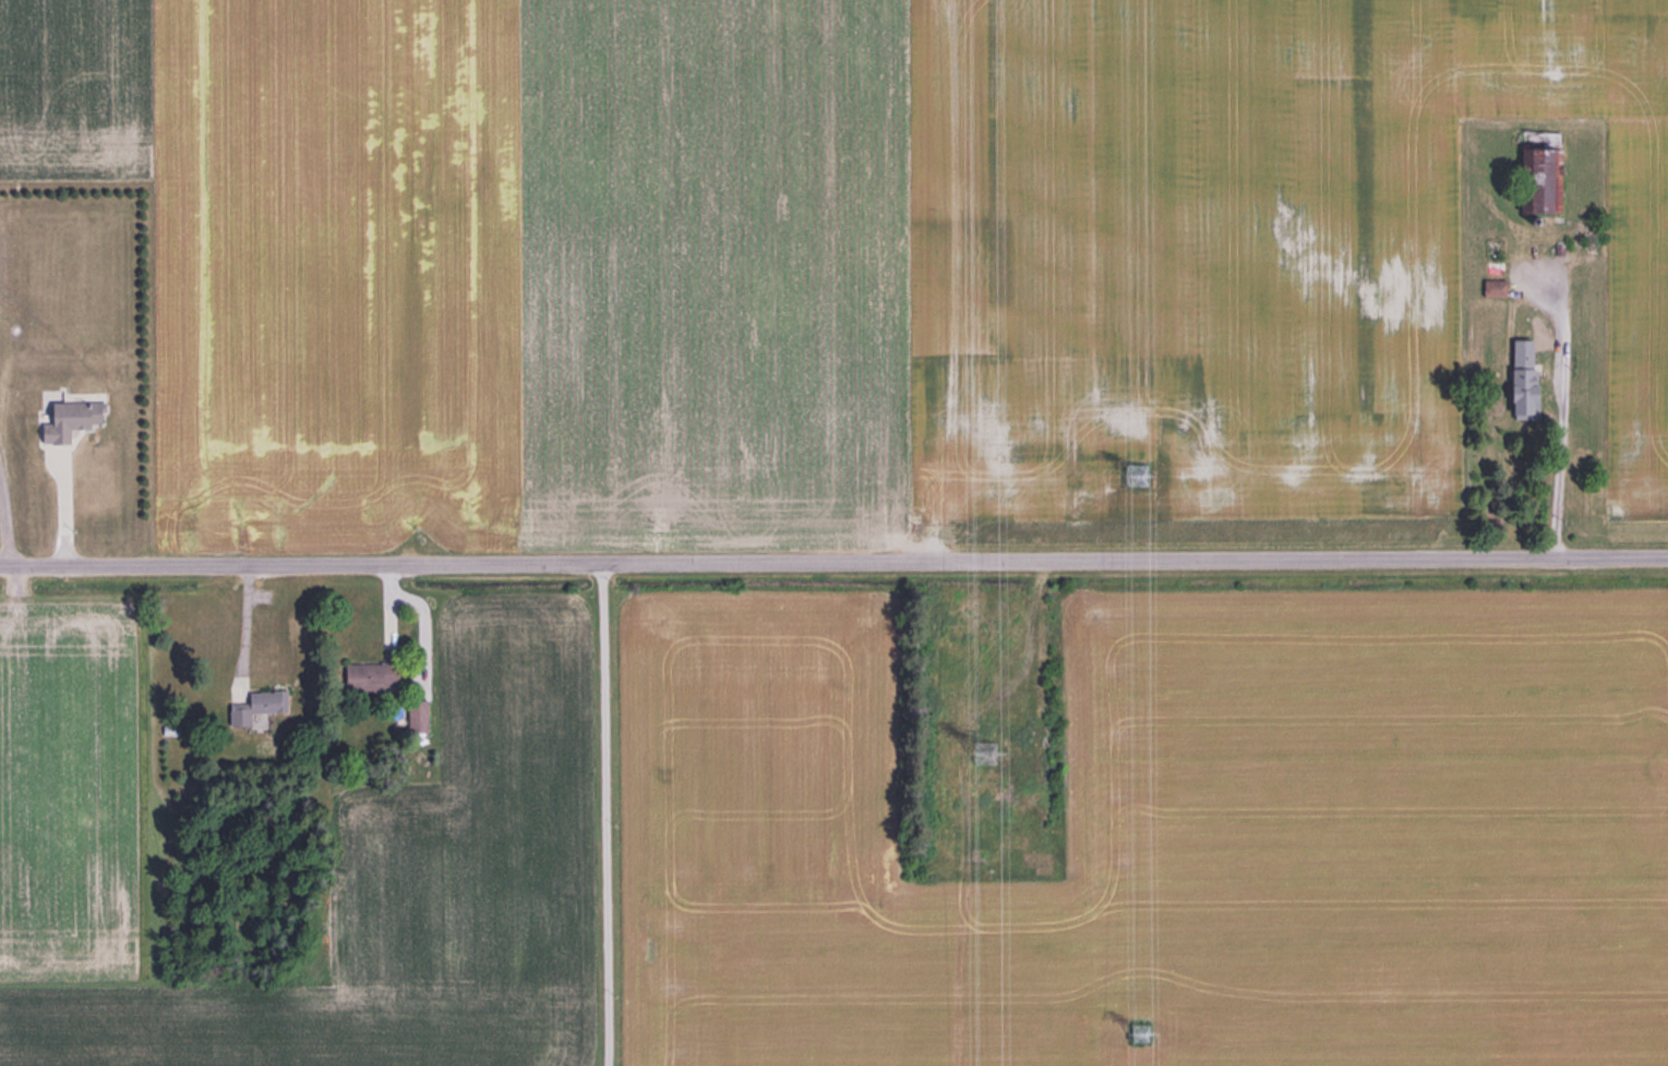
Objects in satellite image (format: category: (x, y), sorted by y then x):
building: (1538, 177)
road: (418, 350)
building: (1520, 368)
building: (69, 418)
road: (1560, 422)
power tower: (1135, 471)
road: (62, 506)
road: (3, 522)
road: (833, 561)
road: (244, 630)
building: (361, 675)
building: (254, 698)
building: (416, 716)
power tower: (982, 752)
road: (605, 814)
power tower: (1132, 1034)

